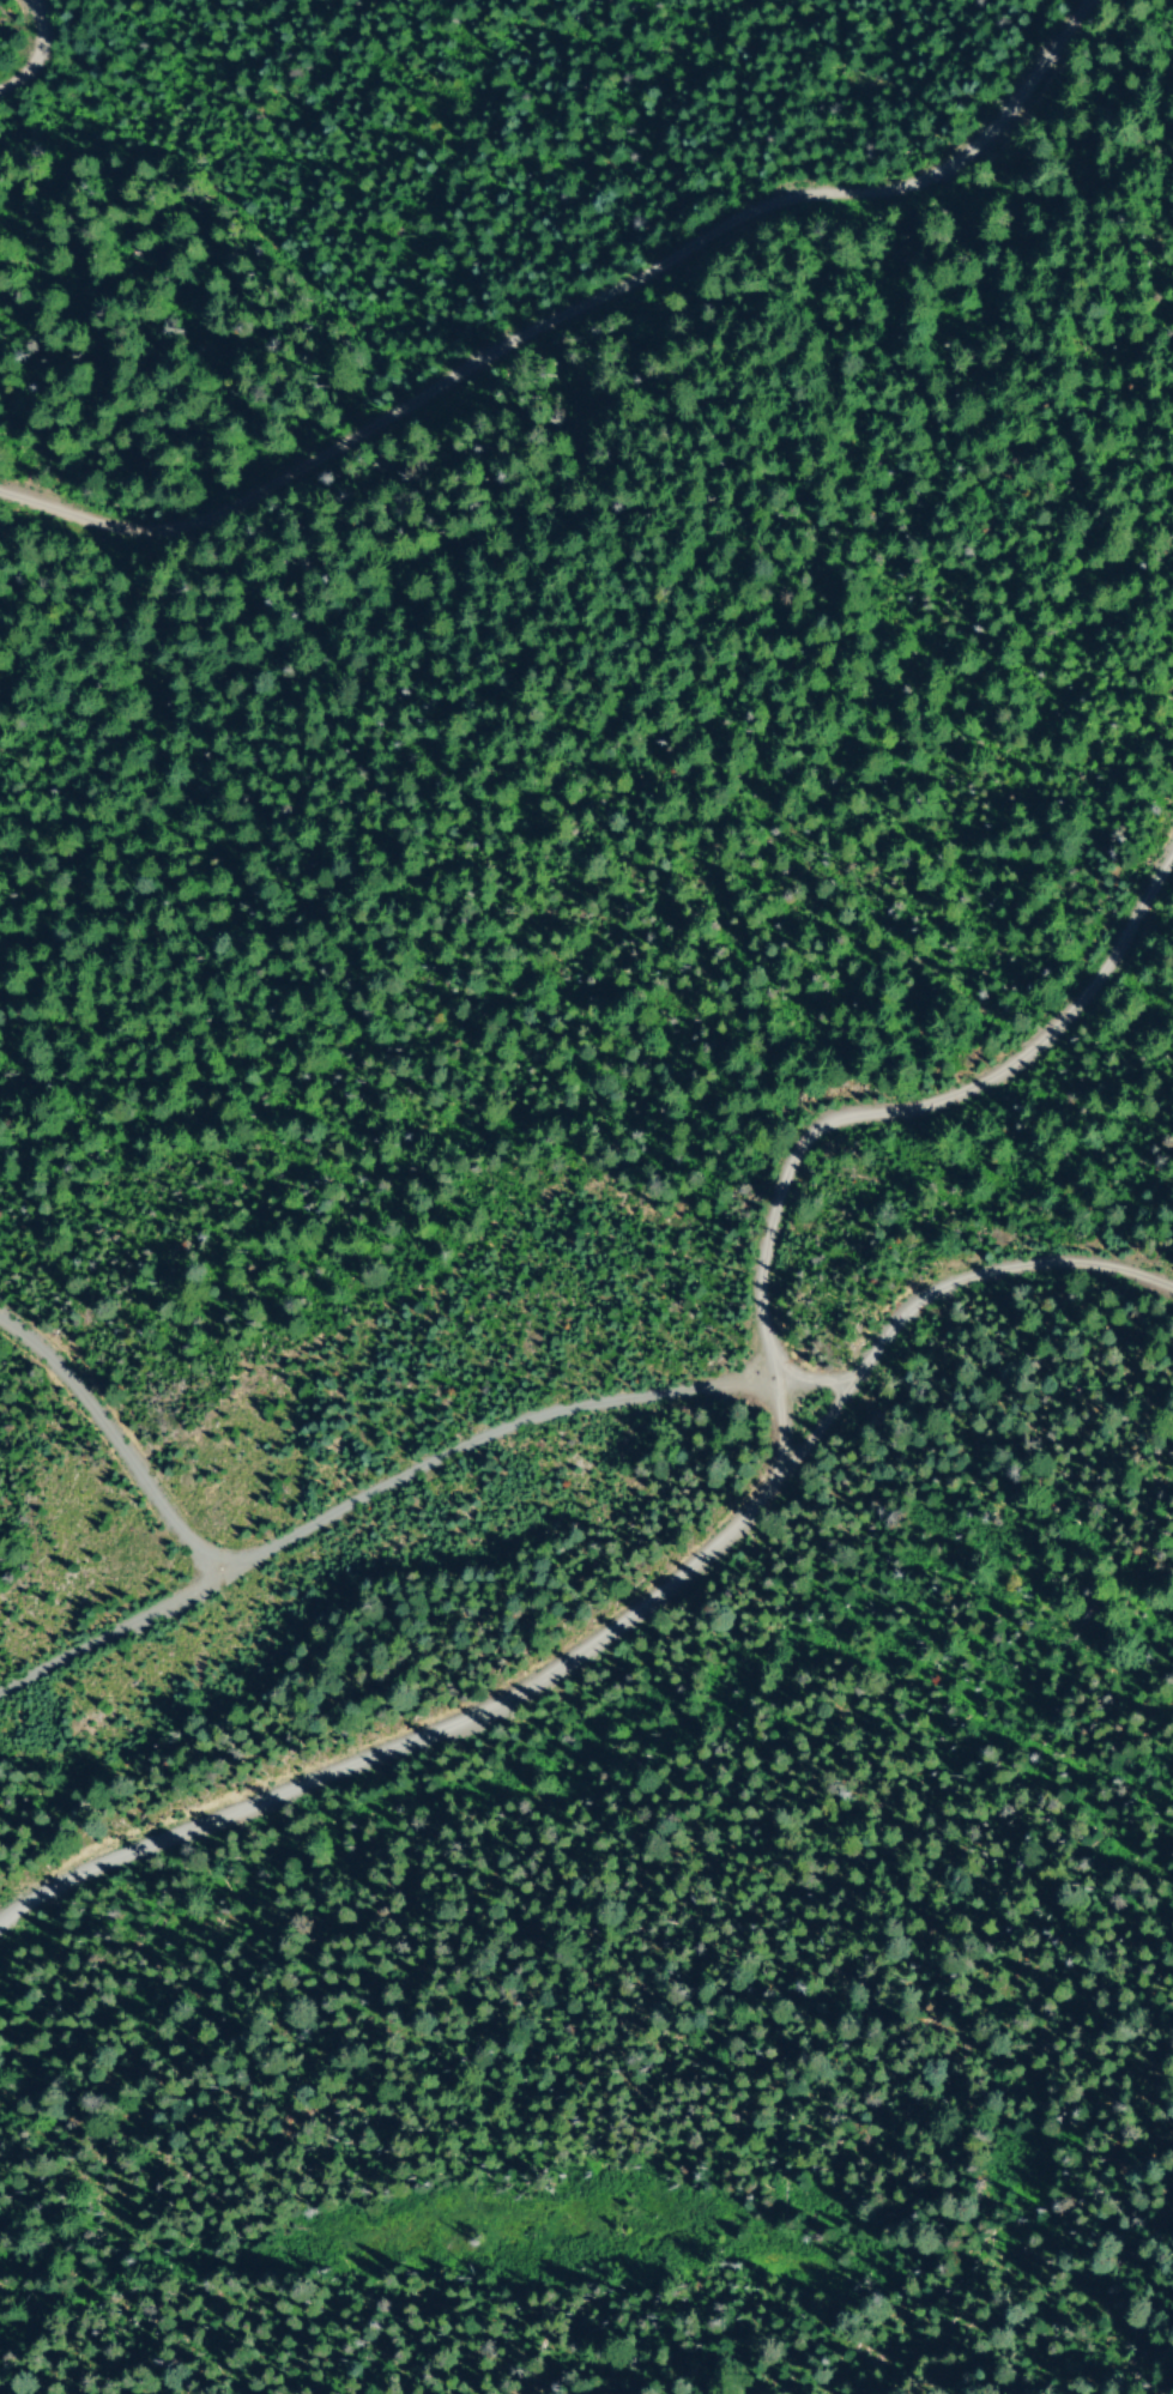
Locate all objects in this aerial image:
road: (32, 50)
road: (573, 316)
road: (957, 1292)
road: (111, 1445)
road: (370, 1499)
road: (755, 1505)

